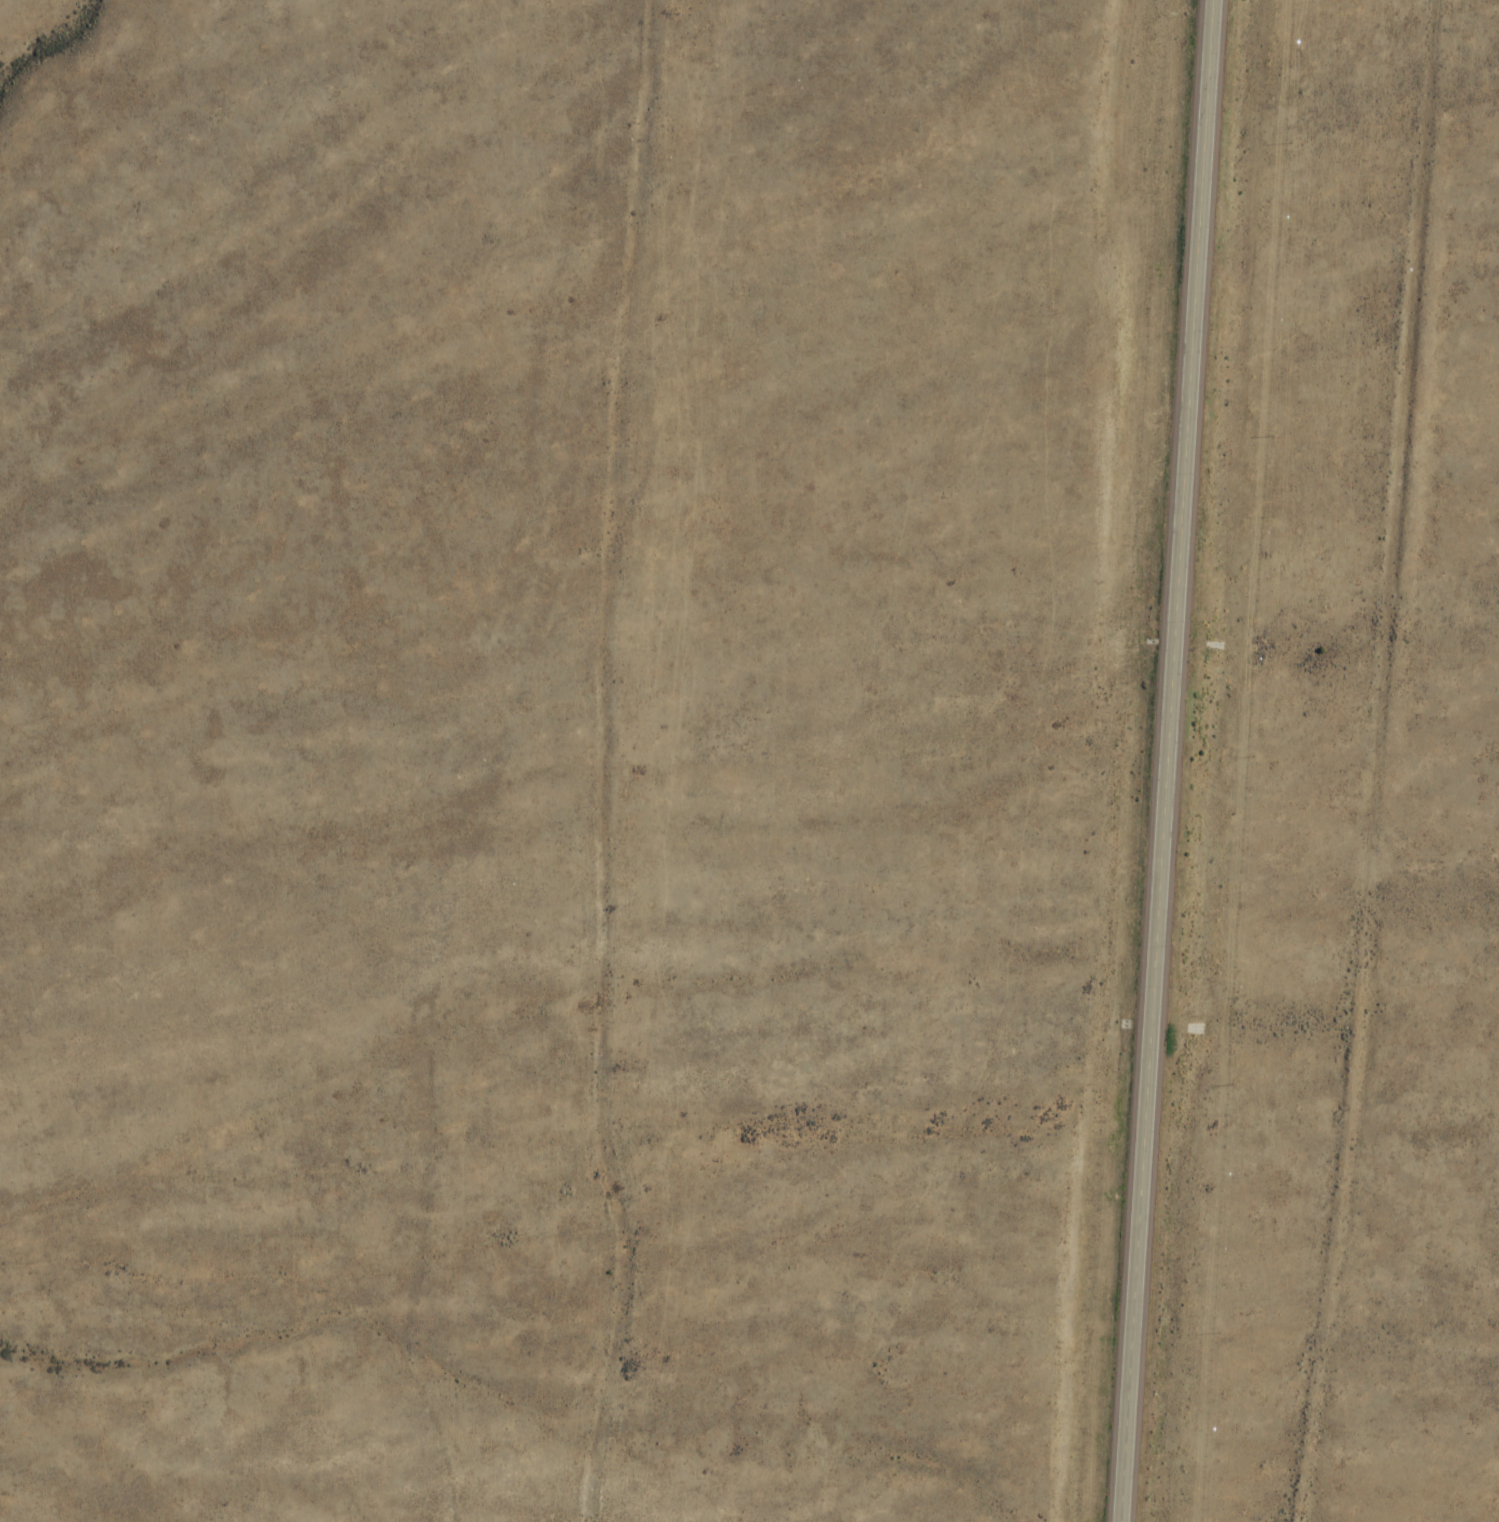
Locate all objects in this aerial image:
road: (1166, 761)

